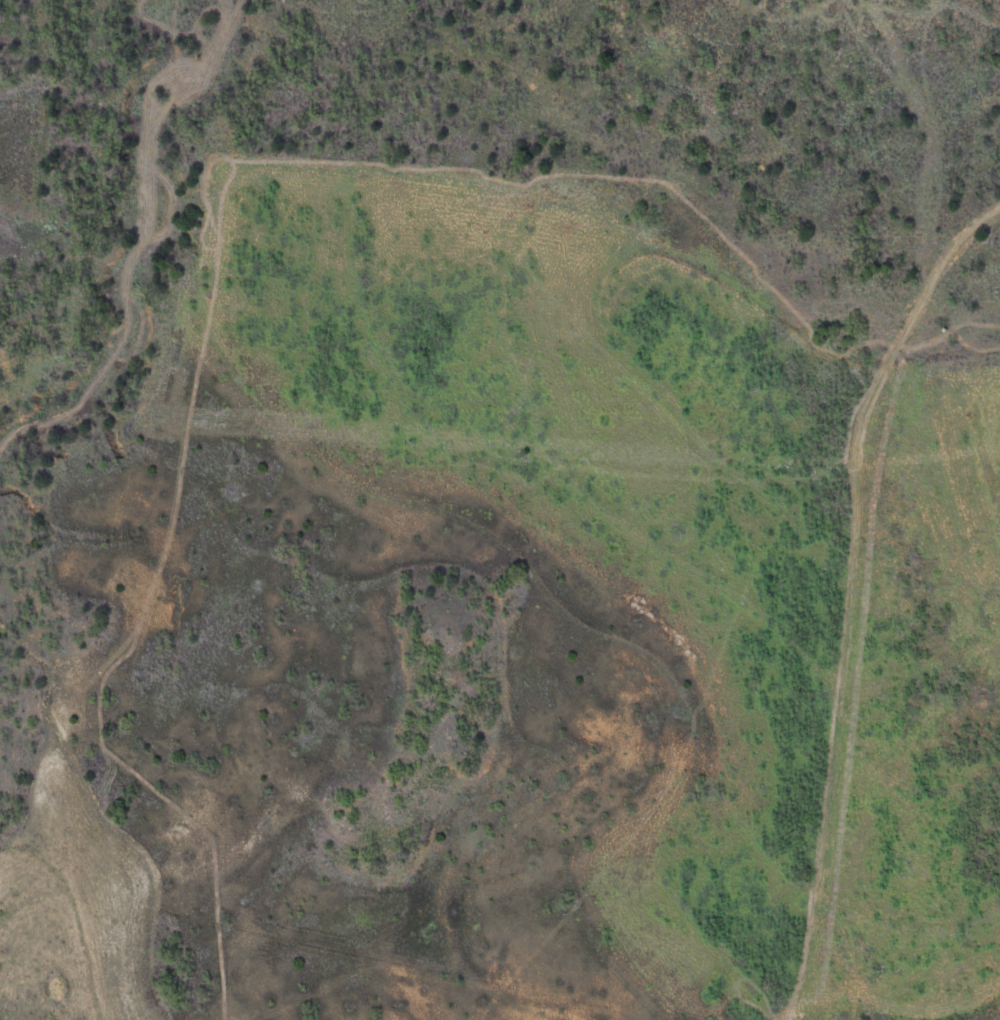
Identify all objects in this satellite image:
road: (904, 334)
road: (834, 750)

